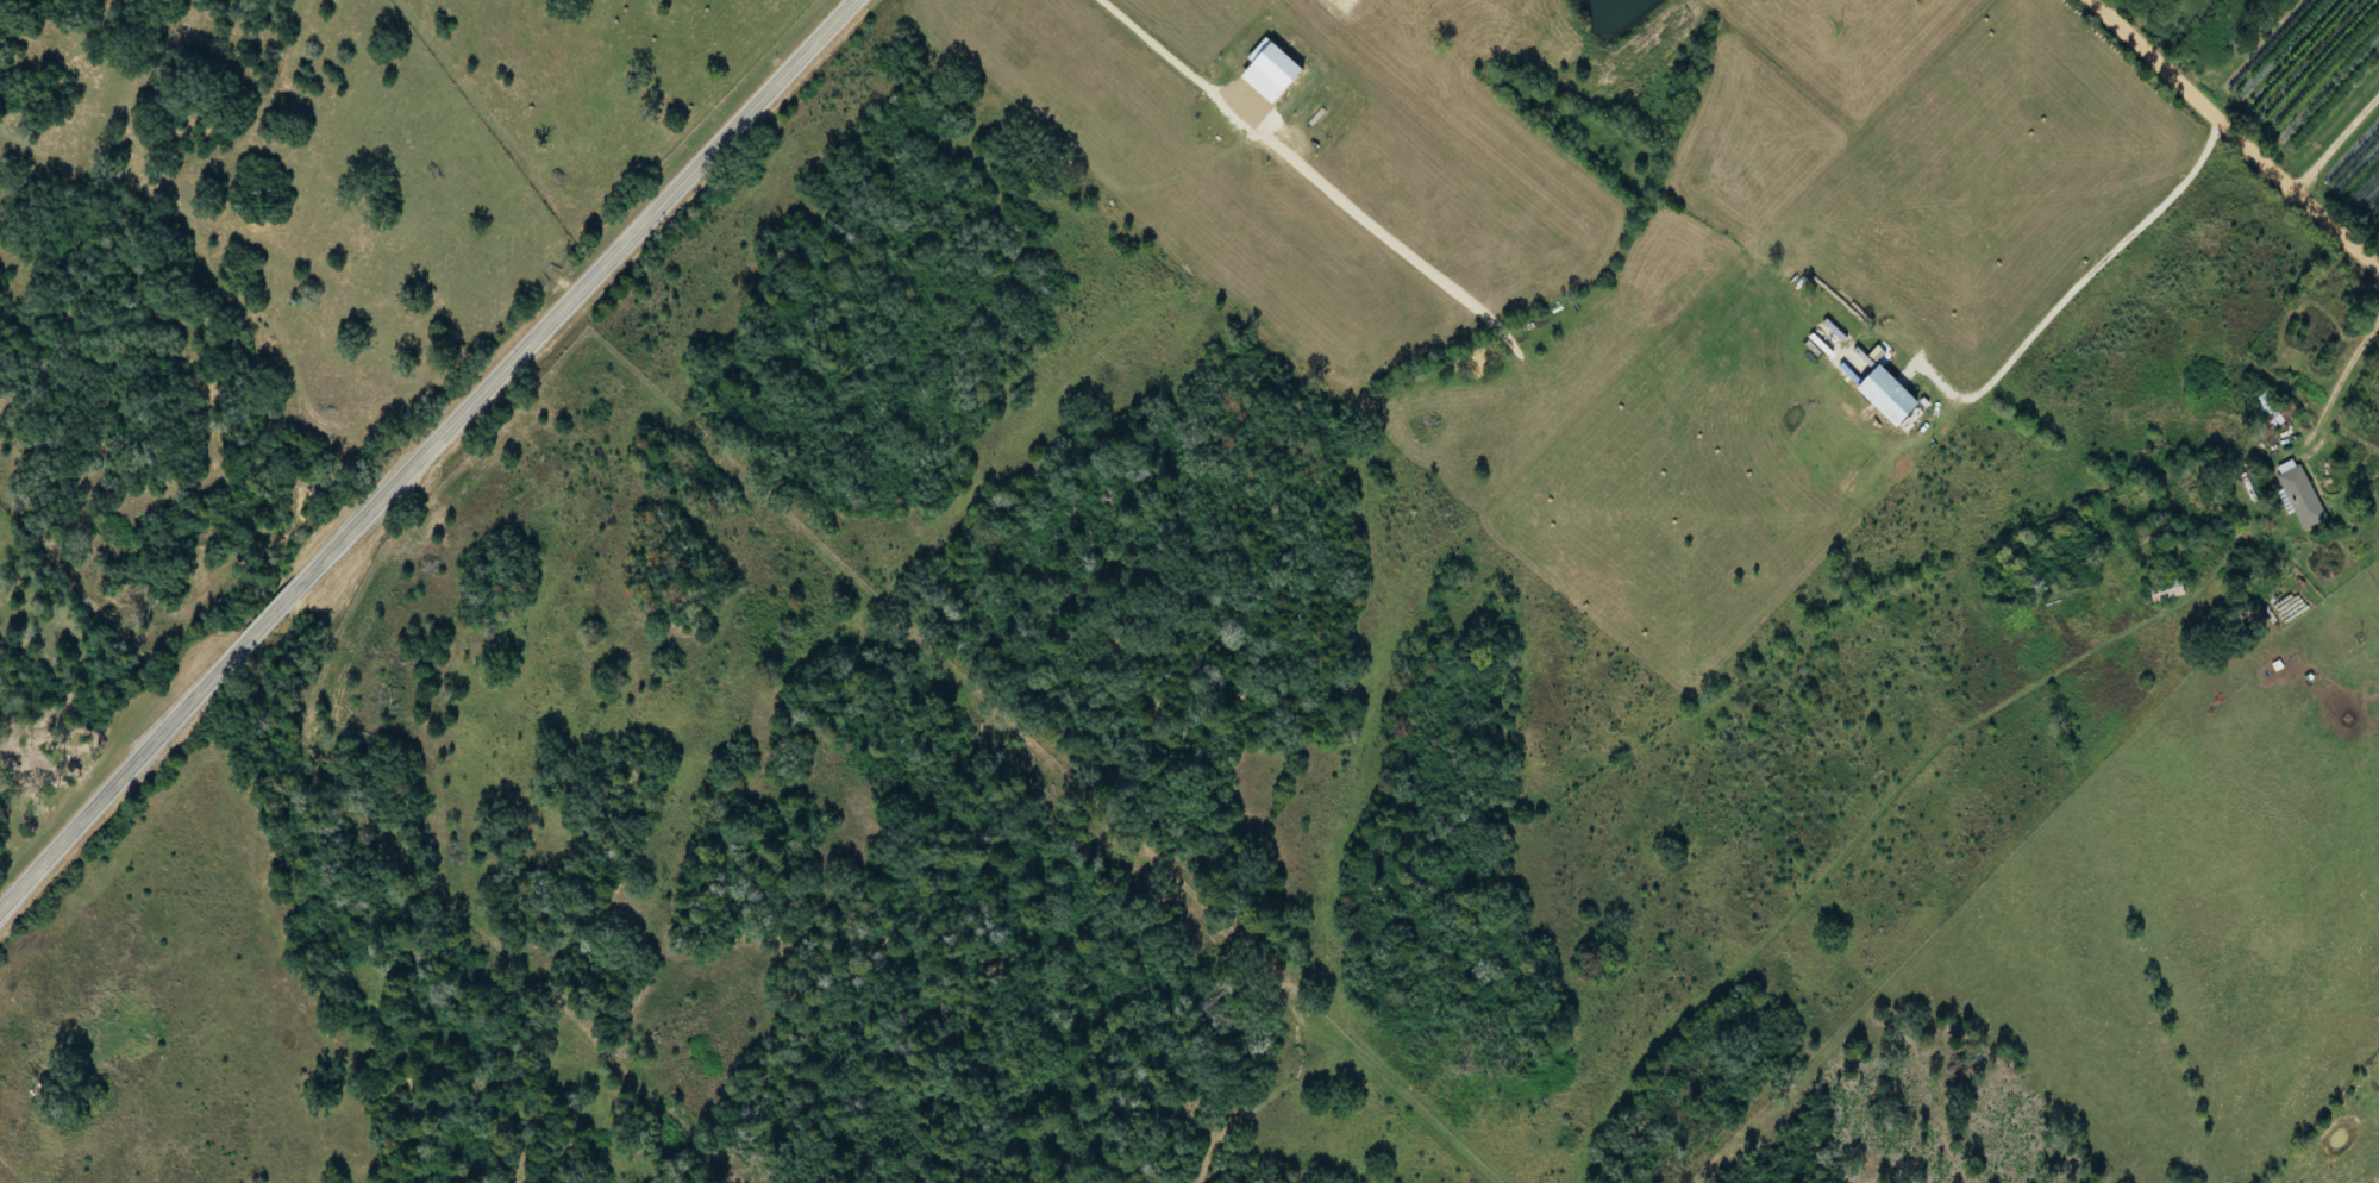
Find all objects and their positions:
road: (2234, 134)
road: (2336, 140)
building: (2265, 409)
road: (422, 451)
building: (2296, 495)
building: (2161, 589)

